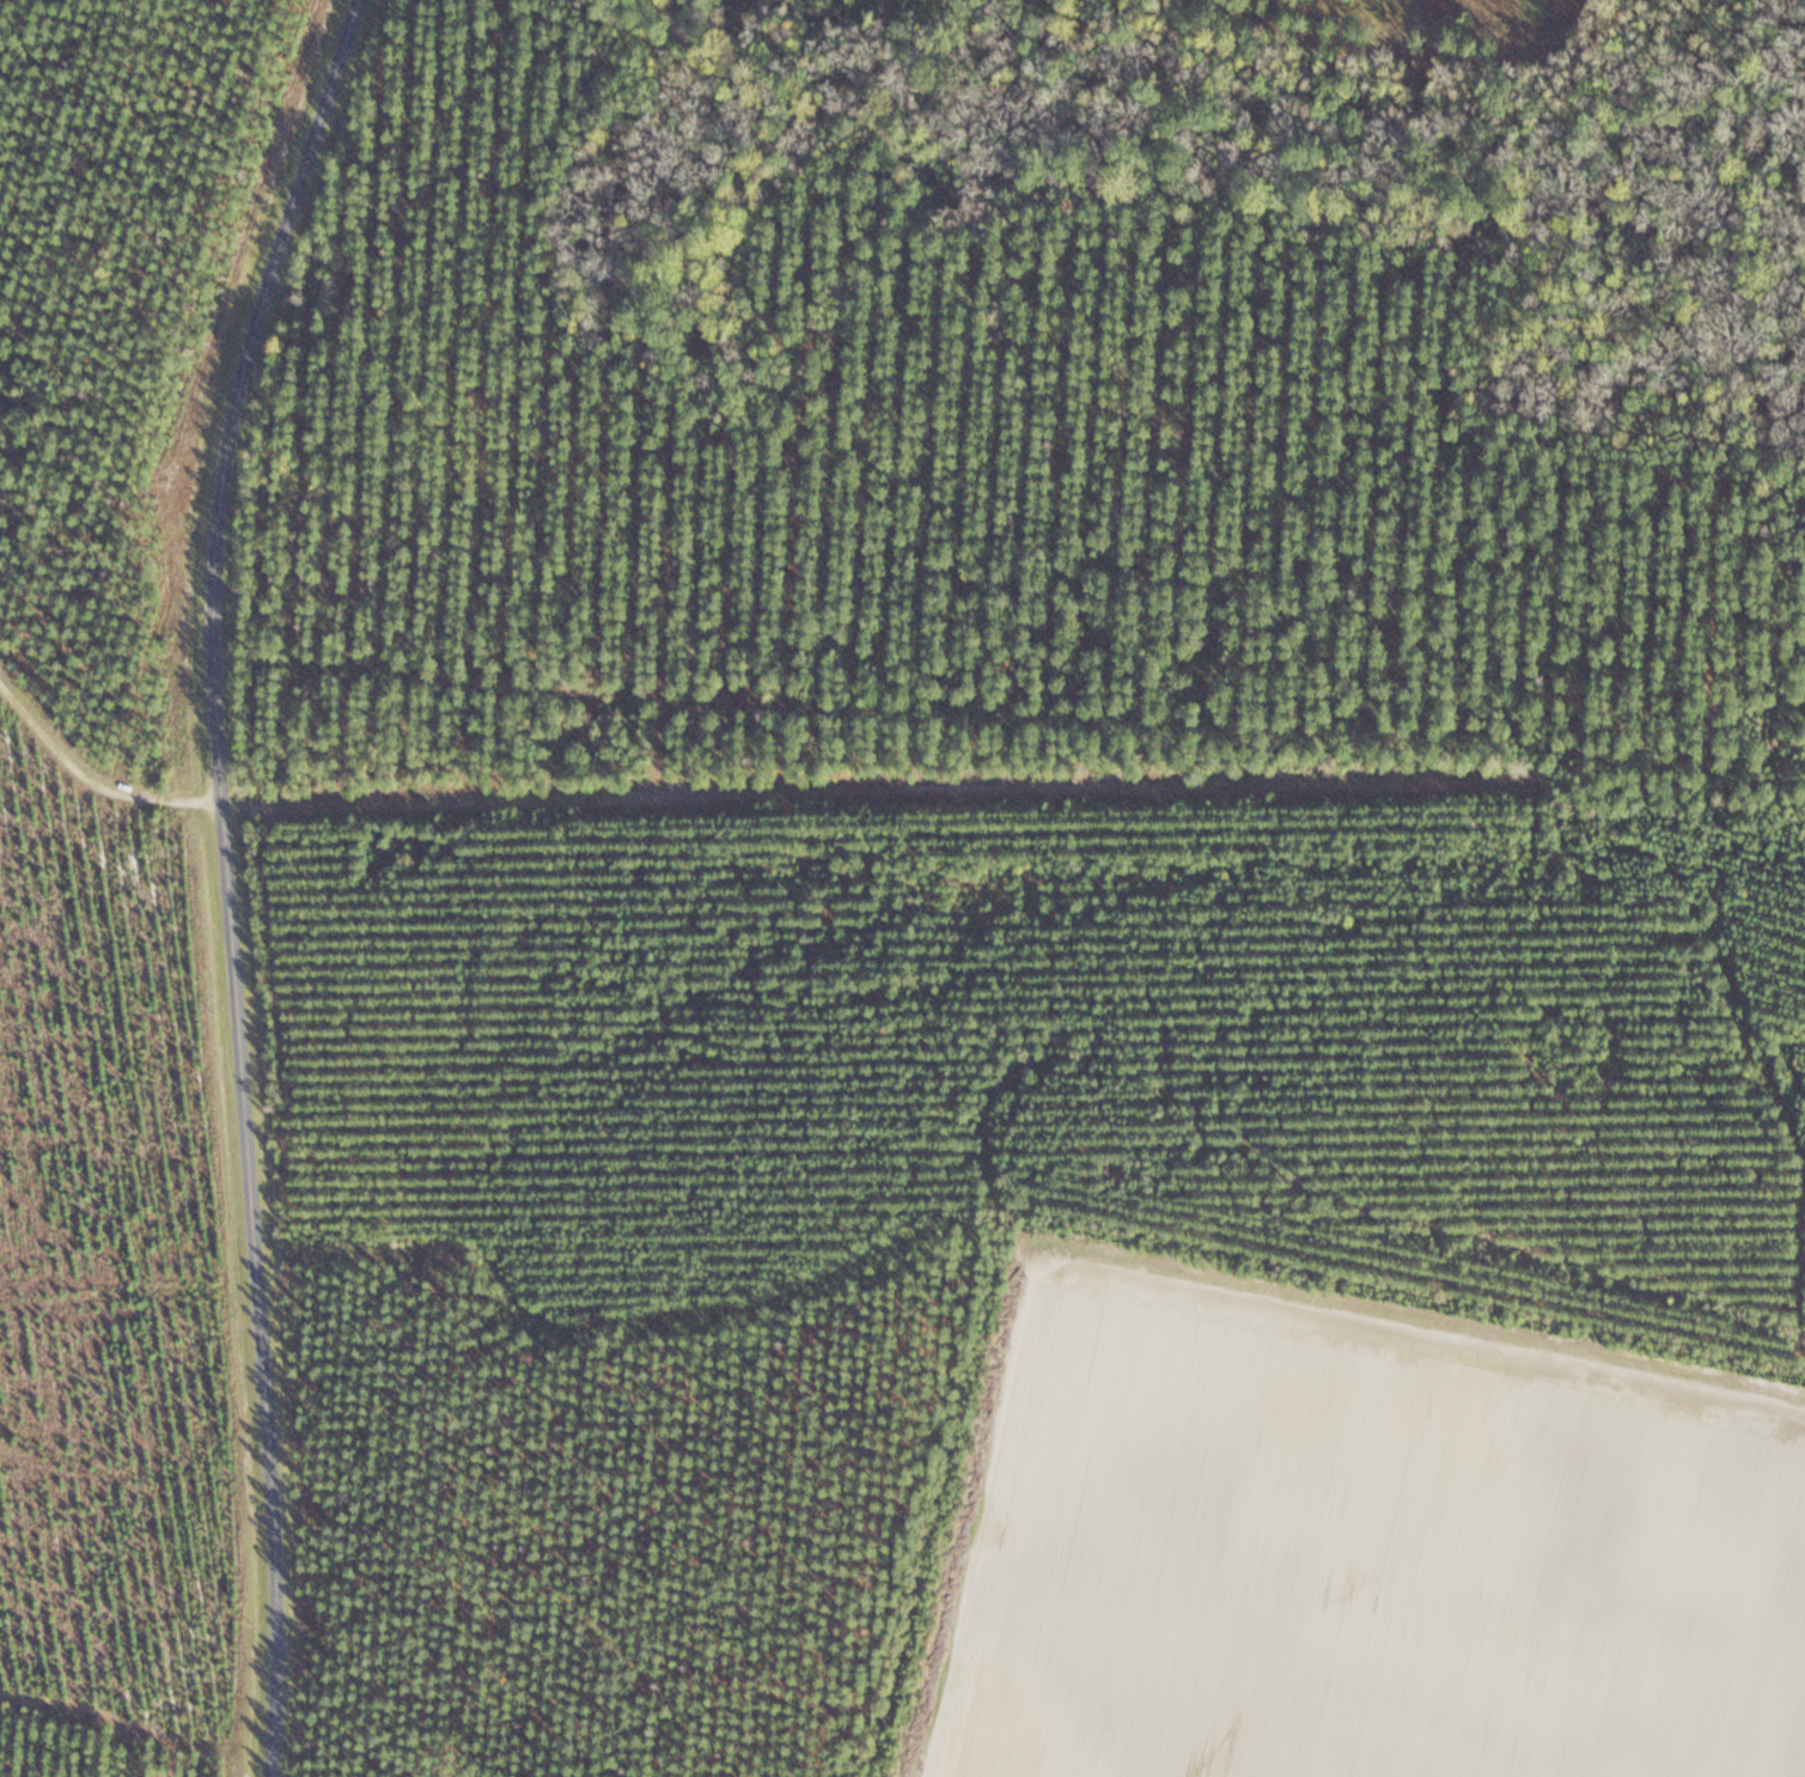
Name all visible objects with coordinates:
road: (764, 795)
road: (225, 880)

